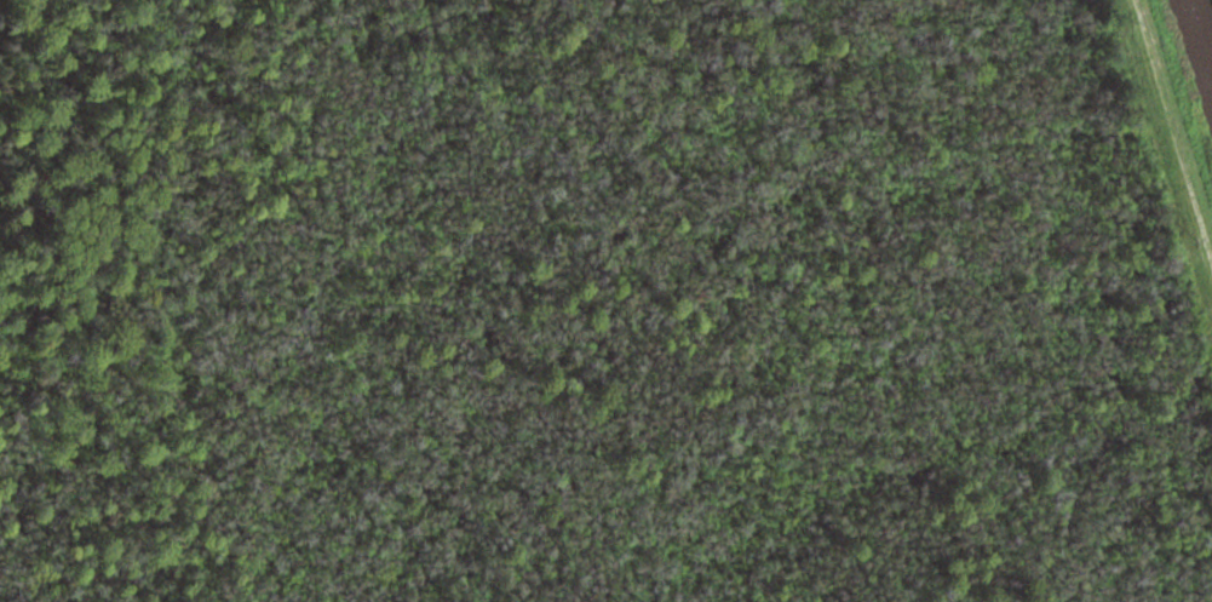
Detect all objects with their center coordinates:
road: (1174, 122)

